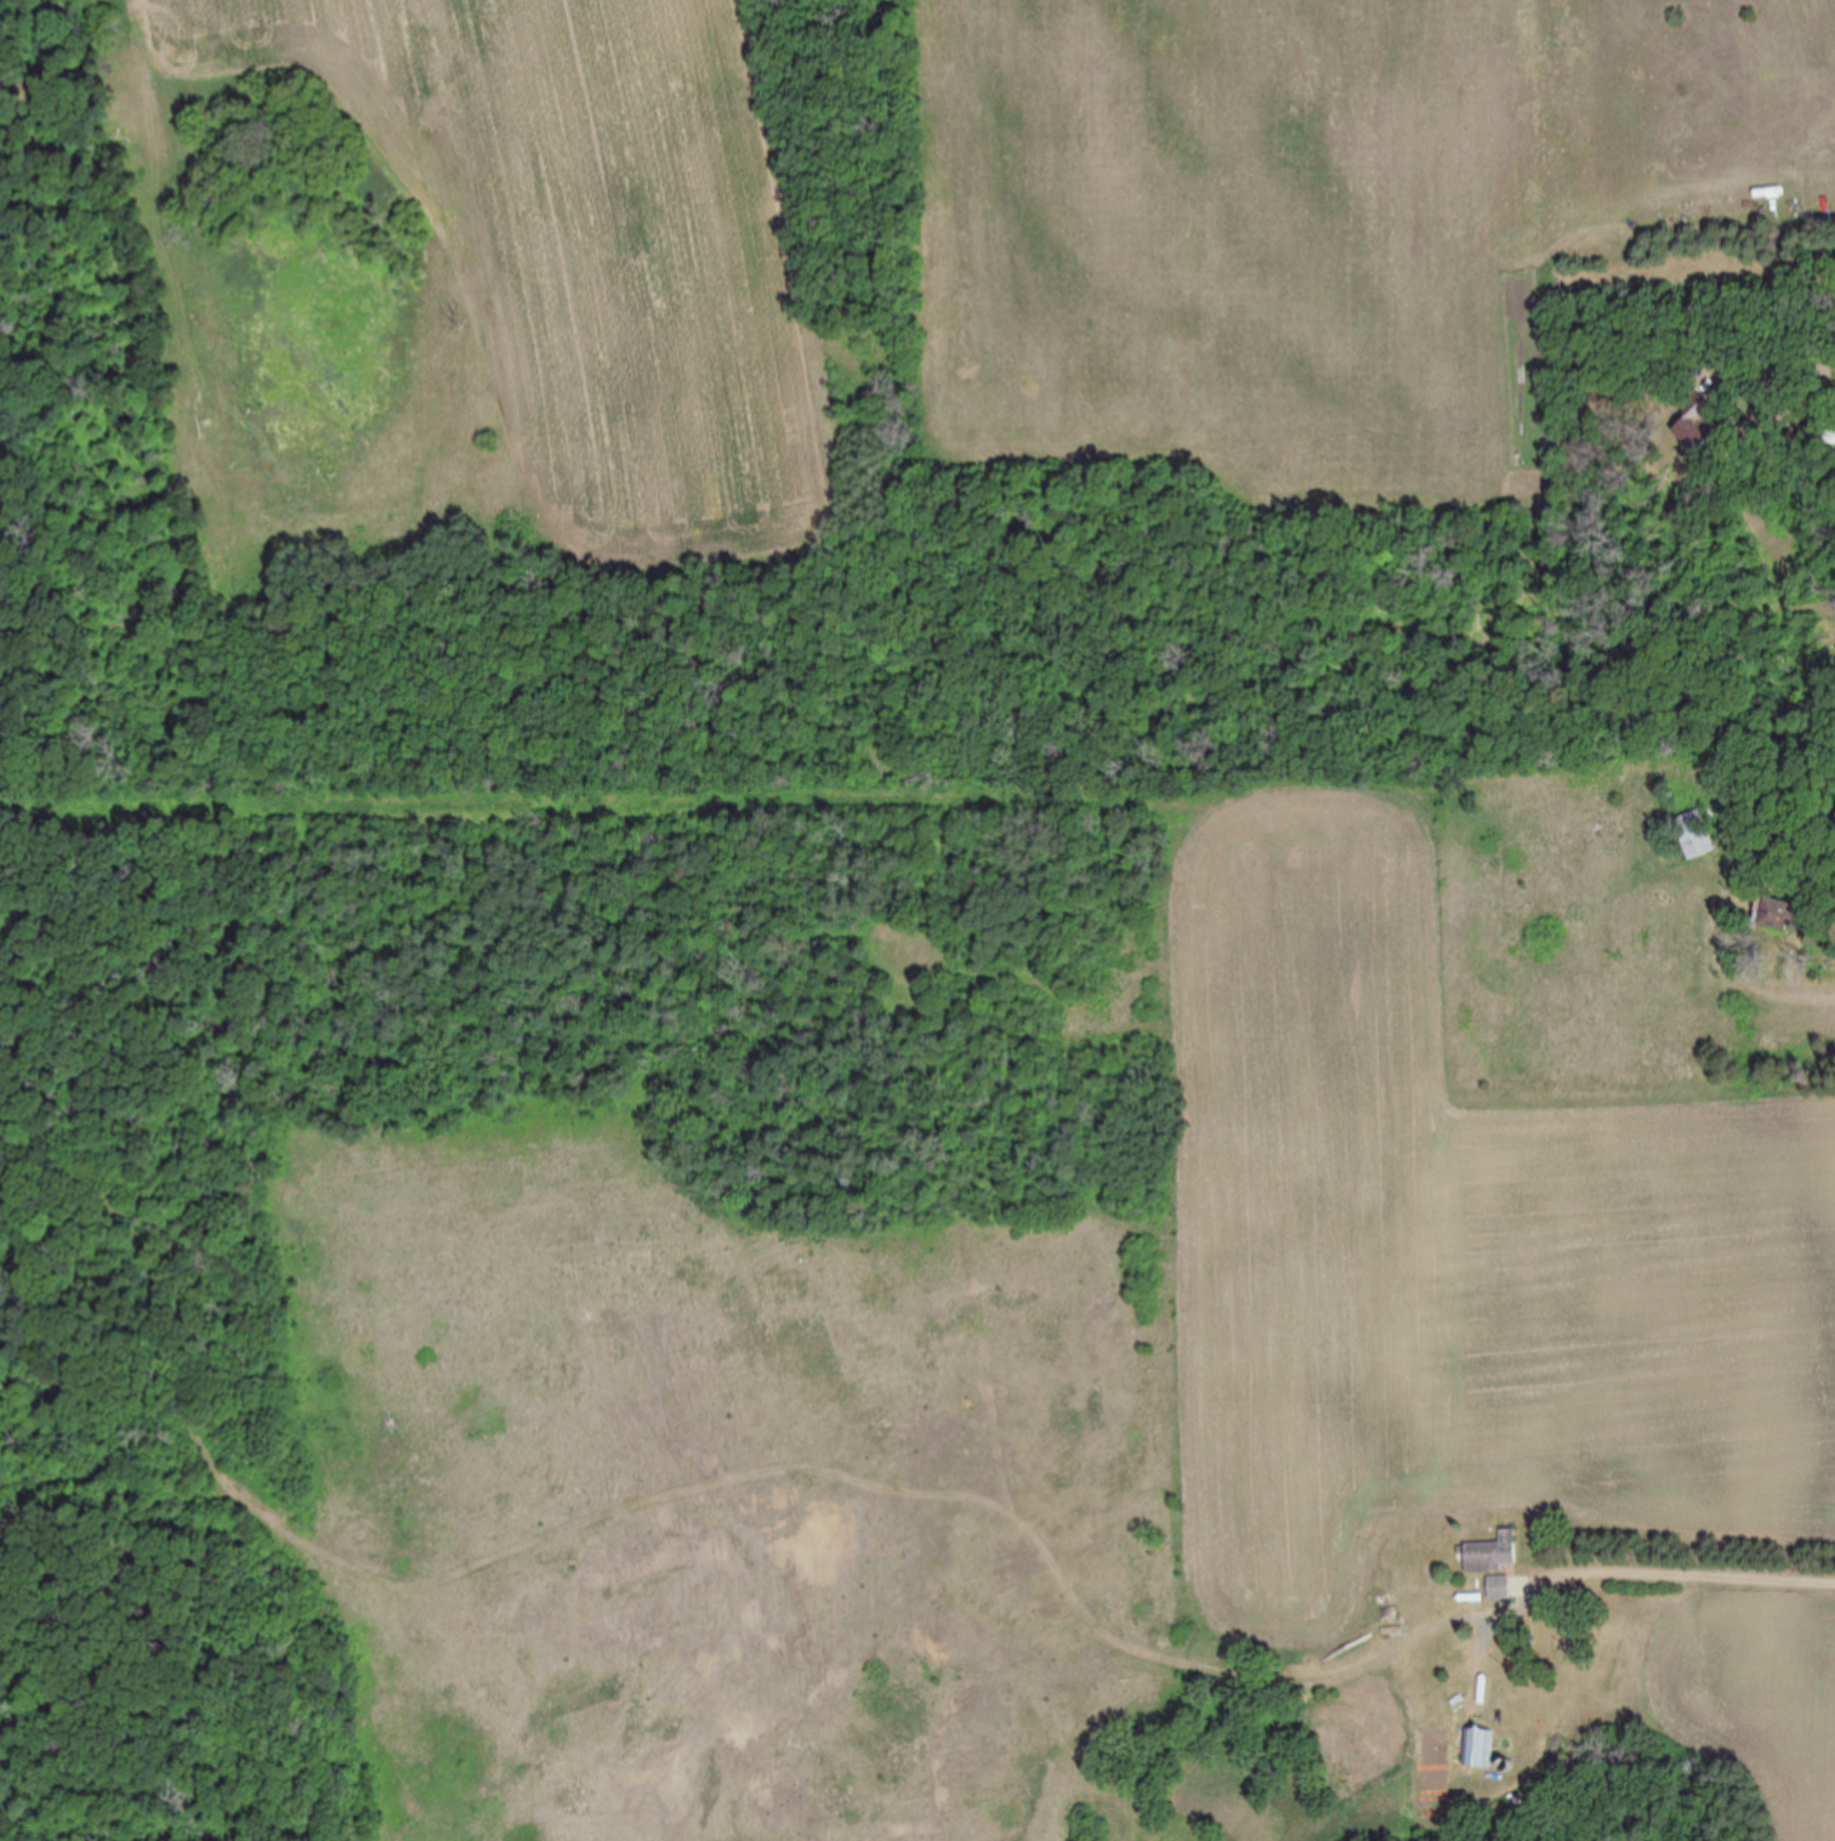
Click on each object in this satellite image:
building: (1697, 424)
building: (1693, 836)
building: (1773, 914)
building: (1493, 1555)
road: (1712, 1587)
building: (1500, 1589)
building: (1478, 1749)

